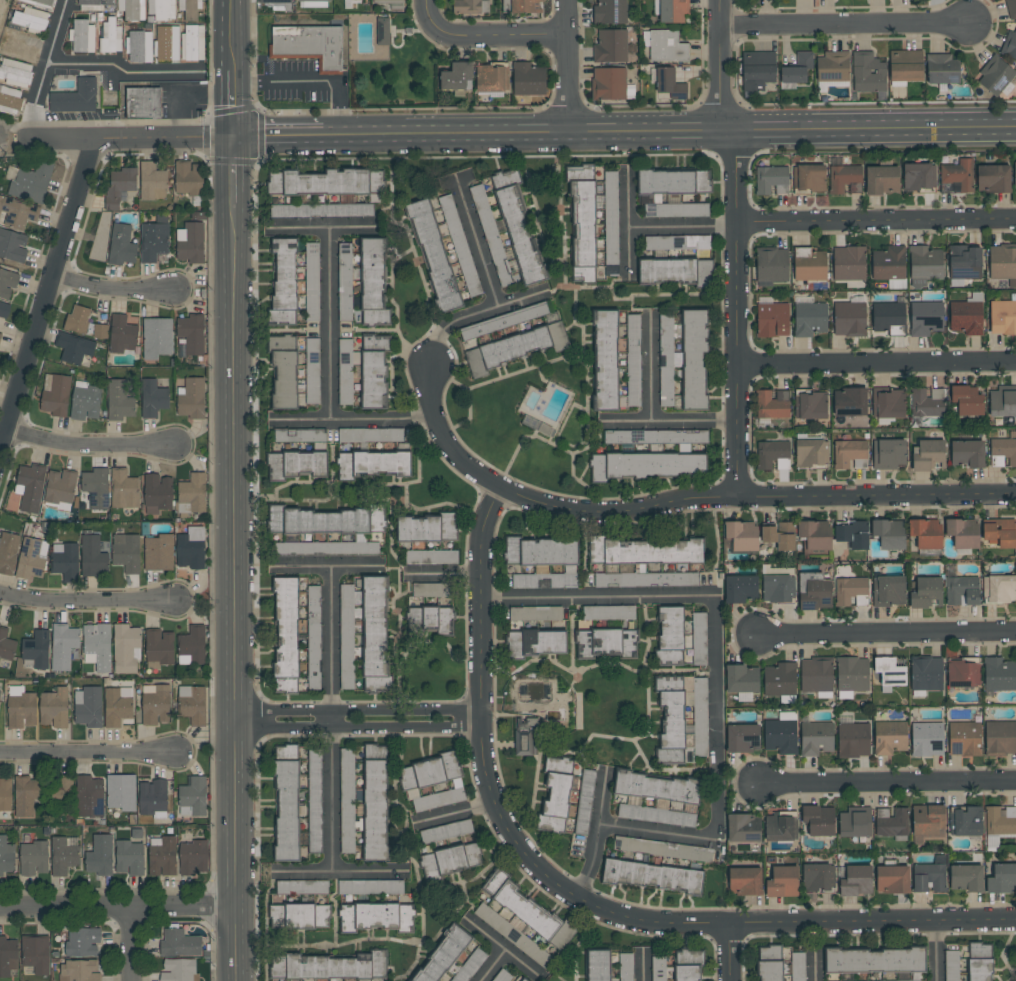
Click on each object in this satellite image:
building: (312, 0)
building: (387, 0)
building: (801, 0)
building: (899, 0)
building: (935, 0)
building: (274, 1)
building: (41, 2)
building: (94, 4)
building: (470, 6)
building: (521, 6)
building: (190, 8)
building: (1011, 8)
building: (162, 9)
building: (130, 10)
building: (671, 10)
building: (610, 11)
building: (32, 19)
building: (150, 20)
road: (841, 24)
building: (149, 27)
building: (382, 31)
building: (83, 35)
road: (487, 36)
building: (111, 37)
building: (193, 42)
building: (167, 44)
building: (1009, 44)
building: (21, 45)
building: (308, 45)
building: (139, 46)
building: (610, 46)
building: (666, 47)
building: (905, 65)
building: (833, 66)
road: (120, 67)
road: (568, 67)
road: (718, 67)
road: (234, 68)
building: (797, 68)
building: (942, 68)
building: (758, 69)
road: (46, 70)
building: (16, 72)
building: (868, 72)
building: (995, 75)
building: (455, 76)
building: (490, 77)
building: (527, 79)
road: (312, 81)
building: (608, 82)
building: (669, 83)
building: (110, 90)
building: (76, 97)
building: (10, 100)
building: (143, 102)
road: (671, 133)
road: (281, 138)
road: (164, 139)
road: (59, 140)
building: (1014, 175)
building: (808, 176)
building: (916, 176)
building: (956, 176)
building: (993, 177)
building: (189, 178)
building: (845, 178)
building: (881, 178)
building: (771, 180)
building: (30, 181)
building: (153, 181)
building: (673, 181)
building: (327, 182)
building: (120, 187)
building: (674, 209)
building: (321, 211)
building: (17, 212)
road: (876, 221)
building: (610, 224)
road: (627, 225)
road: (682, 225)
building: (517, 226)
road: (325, 228)
building: (584, 231)
building: (100, 235)
building: (490, 235)
building: (154, 239)
building: (676, 242)
building: (192, 243)
road: (479, 243)
building: (13, 245)
building: (122, 245)
building: (459, 245)
building: (433, 255)
building: (965, 261)
building: (1003, 262)
building: (848, 263)
building: (772, 264)
building: (924, 264)
building: (809, 265)
building: (889, 266)
building: (675, 270)
building: (283, 281)
building: (312, 282)
building: (7, 283)
building: (372, 283)
road: (111, 288)
road: (45, 298)
building: (4, 310)
road: (477, 313)
road: (736, 314)
building: (889, 317)
building: (966, 317)
building: (1002, 317)
building: (925, 318)
building: (78, 319)
building: (809, 319)
building: (849, 319)
building: (772, 320)
building: (503, 321)
road: (332, 323)
building: (101, 328)
building: (192, 332)
building: (123, 334)
building: (1, 336)
building: (157, 337)
building: (525, 344)
building: (74, 347)
building: (693, 359)
building: (605, 360)
building: (633, 360)
building: (666, 360)
building: (474, 363)
road: (876, 363)
building: (283, 371)
building: (312, 371)
building: (374, 371)
road: (653, 372)
building: (344, 384)
building: (56, 395)
building: (154, 398)
building: (192, 398)
building: (120, 400)
building: (968, 400)
building: (85, 401)
building: (849, 401)
building: (1002, 401)
building: (888, 402)
building: (926, 402)
building: (772, 403)
building: (810, 404)
road: (354, 418)
road: (669, 422)
building: (546, 431)
building: (299, 435)
building: (370, 435)
building: (657, 437)
road: (90, 444)
building: (1003, 451)
building: (809, 452)
building: (888, 452)
building: (966, 452)
building: (773, 454)
building: (850, 454)
building: (929, 455)
building: (295, 464)
building: (373, 464)
building: (647, 465)
building: (60, 486)
building: (30, 487)
building: (97, 488)
building: (124, 490)
building: (158, 493)
building: (191, 495)
road: (682, 500)
building: (378, 518)
building: (318, 520)
building: (426, 528)
building: (145, 529)
building: (926, 532)
building: (999, 532)
building: (815, 533)
building: (852, 533)
building: (888, 533)
building: (962, 533)
building: (779, 535)
building: (740, 536)
building: (326, 548)
building: (191, 549)
building: (540, 551)
building: (645, 551)
building: (8, 552)
building: (126, 552)
building: (159, 552)
building: (93, 555)
building: (431, 557)
building: (30, 559)
road: (236, 559)
building: (66, 561)
road: (330, 566)
road: (445, 573)
building: (546, 578)
building: (646, 579)
building: (740, 588)
building: (998, 588)
building: (849, 589)
building: (431, 590)
building: (888, 590)
building: (814, 591)
building: (962, 591)
building: (926, 592)
road: (597, 598)
road: (85, 601)
building: (609, 612)
building: (535, 613)
building: (430, 619)
building: (364, 633)
building: (285, 634)
building: (669, 636)
road: (886, 636)
building: (698, 638)
building: (313, 640)
building: (543, 641)
building: (606, 642)
building: (64, 644)
building: (7, 645)
building: (98, 646)
building: (192, 646)
building: (125, 648)
building: (159, 648)
building: (36, 650)
building: (889, 671)
building: (960, 673)
building: (926, 674)
building: (999, 674)
building: (851, 675)
building: (816, 676)
building: (780, 679)
building: (741, 681)
building: (0, 692)
building: (192, 704)
building: (118, 706)
building: (156, 706)
building: (89, 707)
road: (359, 707)
building: (55, 708)
building: (22, 710)
building: (557, 713)
building: (700, 717)
road: (329, 719)
building: (670, 719)
road: (360, 725)
building: (781, 734)
building: (524, 736)
building: (742, 737)
building: (889, 737)
building: (964, 738)
building: (815, 739)
building: (927, 739)
building: (853, 740)
building: (285, 752)
road: (85, 753)
building: (432, 783)
road: (885, 784)
building: (121, 792)
building: (26, 795)
building: (61, 795)
building: (555, 795)
building: (89, 797)
building: (193, 797)
building: (5, 799)
building: (153, 799)
building: (657, 799)
building: (314, 801)
building: (347, 801)
building: (375, 802)
building: (584, 802)
road: (601, 804)
building: (286, 811)
road: (454, 812)
road: (718, 814)
building: (133, 820)
building: (819, 820)
building: (1000, 820)
building: (852, 822)
building: (891, 822)
building: (927, 822)
building: (779, 827)
building: (743, 828)
building: (47, 831)
building: (445, 831)
building: (137, 834)
building: (662, 849)
building: (100, 855)
building: (6, 856)
building: (63, 856)
building: (162, 856)
building: (193, 857)
building: (34, 858)
building: (130, 858)
building: (450, 861)
road: (341, 873)
building: (929, 875)
building: (651, 876)
building: (816, 877)
building: (965, 877)
building: (892, 879)
building: (1002, 879)
building: (744, 880)
building: (856, 880)
building: (782, 881)
building: (301, 887)
building: (370, 887)
road: (574, 897)
building: (518, 904)
road: (118, 908)
building: (298, 916)
building: (376, 917)
building: (83, 942)
road: (128, 944)
building: (180, 944)
road: (500, 950)
road: (934, 951)
road: (730, 952)
building: (36, 954)
building: (207, 954)
building: (442, 955)
building: (8, 956)
building: (874, 960)
building: (978, 962)
building: (769, 963)
road: (644, 964)
building: (598, 965)
building: (687, 965)
building: (951, 965)
building: (329, 966)
building: (470, 966)
building: (797, 966)
road: (523, 967)
building: (625, 967)
building: (658, 968)
road: (813, 968)
building: (80, 970)
building: (180, 970)
building: (502, 976)
building: (356, 979)
building: (522, 979)
building: (912, 980)

